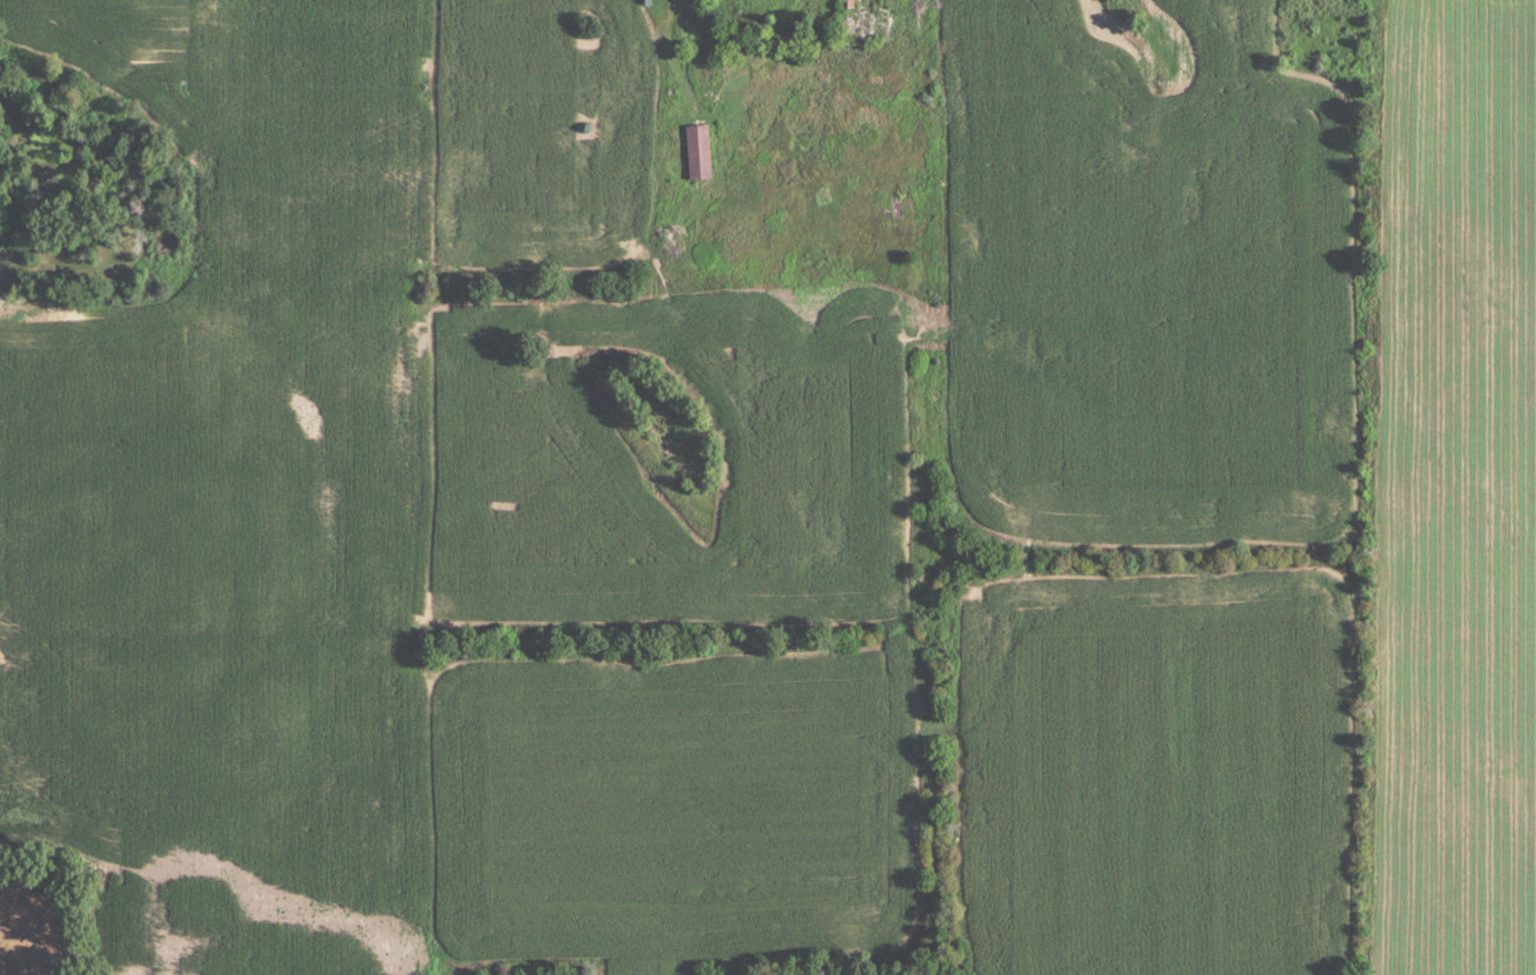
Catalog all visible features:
building: (869, 23)
building: (699, 154)
building: (892, 207)

